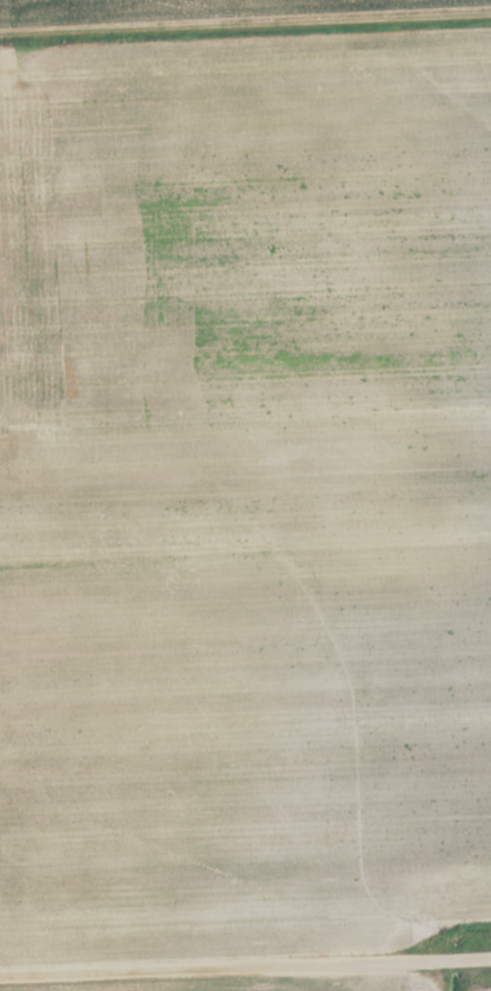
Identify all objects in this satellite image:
road: (245, 970)

